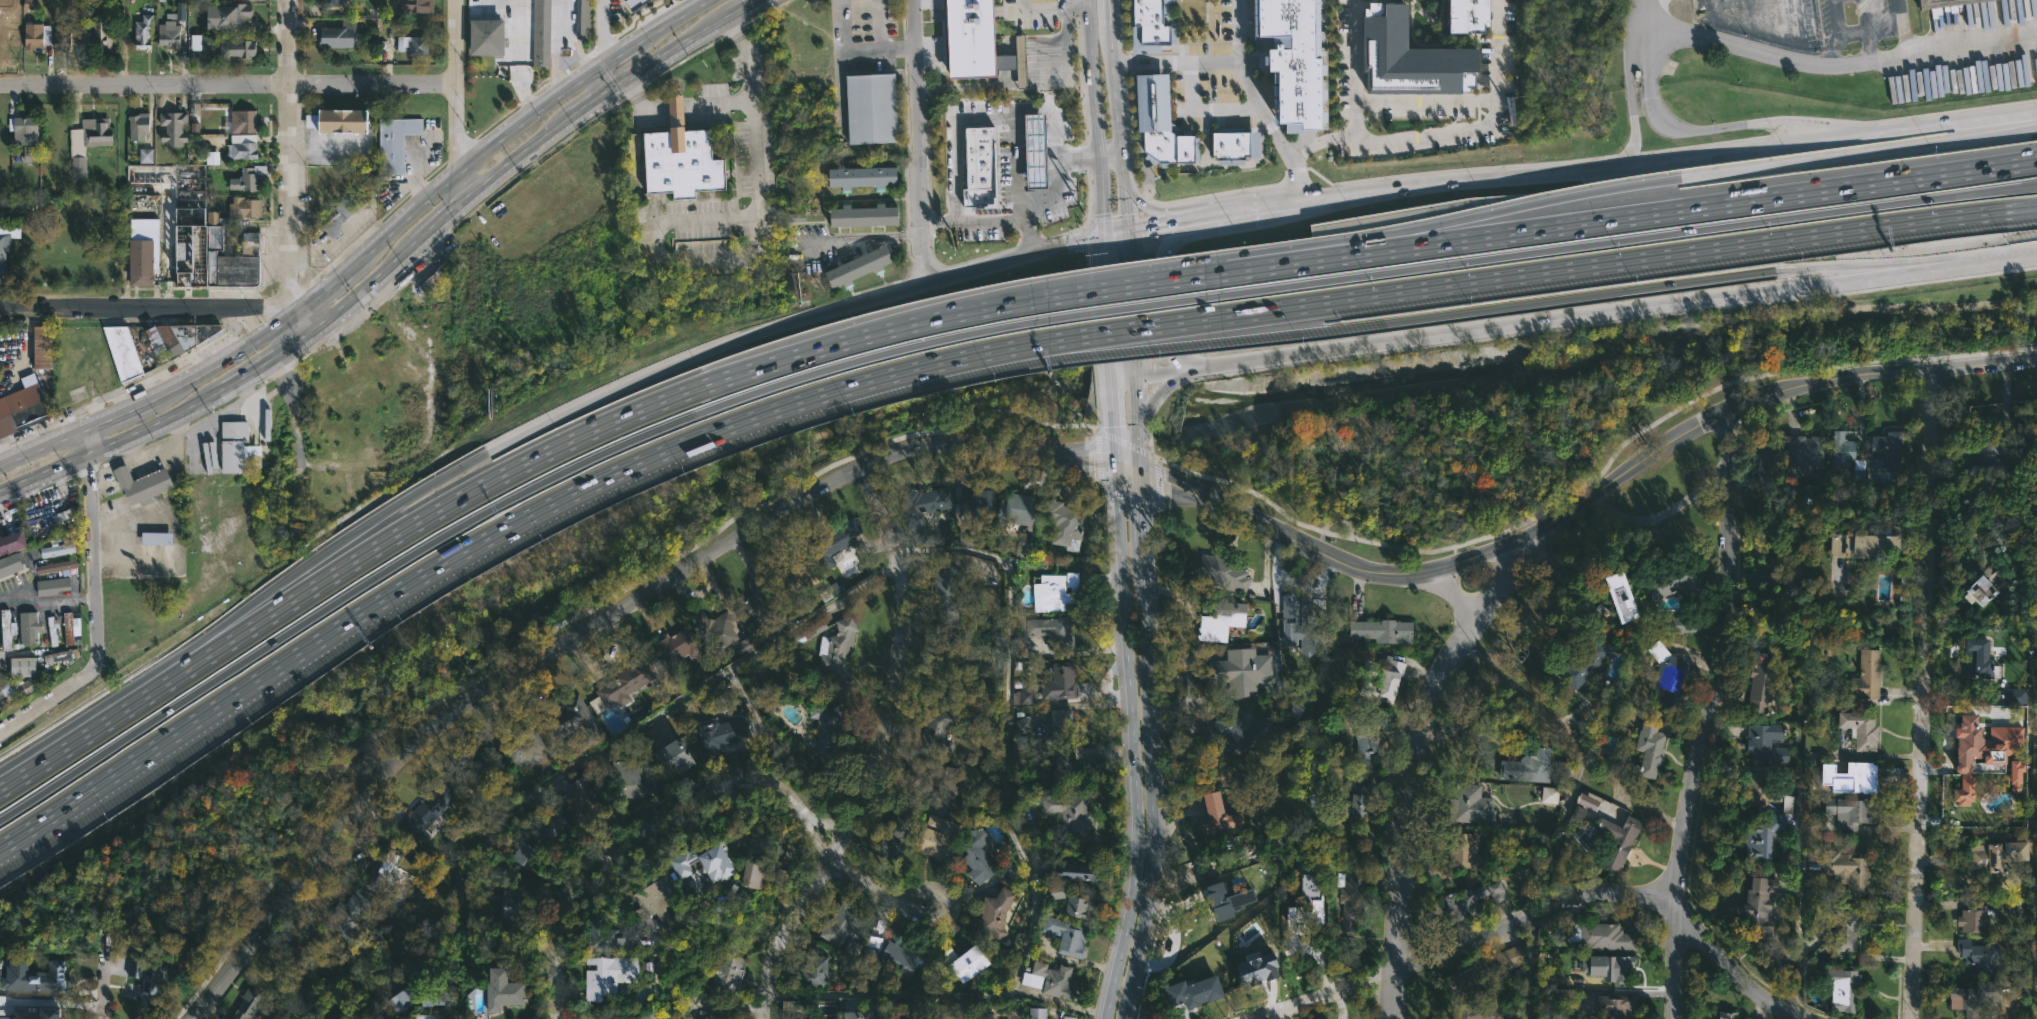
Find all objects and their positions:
building: (329, 2)
building: (1946, 3)
building: (635, 4)
building: (412, 5)
road: (747, 7)
road: (1071, 9)
road: (1646, 11)
road: (1116, 12)
building: (1465, 16)
building: (226, 18)
building: (582, 19)
building: (1149, 26)
road: (1636, 27)
building: (11, 29)
road: (600, 29)
building: (144, 31)
building: (539, 33)
building: (96, 34)
building: (169, 34)
building: (339, 34)
building: (37, 35)
building: (63, 36)
building: (486, 36)
building: (201, 42)
building: (976, 42)
building: (417, 44)
road: (555, 46)
building: (238, 48)
road: (576, 48)
road: (670, 50)
road: (853, 50)
building: (1410, 57)
road: (517, 58)
building: (1296, 59)
road: (1179, 61)
road: (1067, 64)
road: (1834, 64)
road: (1355, 67)
road: (602, 80)
road: (1021, 83)
road: (1249, 84)
road: (227, 85)
road: (963, 85)
road: (748, 91)
road: (640, 101)
road: (1424, 101)
road: (590, 102)
road: (456, 103)
road: (674, 105)
building: (974, 105)
building: (870, 107)
road: (1201, 109)
road: (1016, 113)
road: (1630, 113)
building: (341, 120)
building: (245, 121)
building: (1161, 121)
road: (1750, 123)
building: (139, 126)
road: (914, 126)
building: (174, 127)
road: (1121, 127)
building: (25, 130)
road: (1425, 135)
building: (88, 141)
building: (396, 142)
building: (1235, 147)
building: (244, 149)
building: (1034, 150)
gas station: (1034, 150)
building: (28, 154)
building: (146, 155)
road: (289, 155)
road: (952, 156)
building: (681, 157)
road: (514, 160)
road: (1111, 161)
road: (1787, 161)
building: (979, 167)
road: (1581, 170)
building: (859, 177)
building: (249, 178)
road: (1101, 189)
road: (1055, 196)
road: (1140, 200)
road: (1727, 201)
building: (351, 206)
building: (861, 215)
road: (988, 218)
road: (1477, 222)
road: (435, 225)
building: (205, 228)
traffic signals: (1127, 230)
road: (1116, 232)
traffic signals: (1105, 234)
road: (860, 237)
road: (1619, 237)
building: (4, 250)
road: (363, 252)
road: (716, 254)
road: (1008, 257)
road: (1309, 259)
road: (1619, 259)
road: (2008, 260)
building: (142, 262)
road: (932, 264)
road: (1930, 265)
building: (862, 266)
road: (915, 268)
building: (439, 278)
road: (1123, 284)
road: (352, 299)
road: (1153, 299)
road: (1542, 299)
road: (1131, 304)
road: (1123, 305)
road: (146, 308)
road: (1615, 317)
road: (1127, 327)
road: (290, 331)
building: (180, 337)
road: (1128, 339)
road: (829, 343)
building: (43, 347)
building: (124, 352)
road: (693, 355)
road: (1218, 369)
road: (257, 373)
road: (1160, 375)
traffic signals: (1112, 378)
road: (1123, 378)
traffic signals: (1135, 378)
road: (1160, 392)
park: (1575, 395)
road: (1136, 406)
building: (23, 407)
road: (1113, 422)
road: (1123, 442)
road: (113, 443)
building: (234, 445)
building: (1883, 445)
building: (1985, 445)
road: (158, 446)
road: (993, 447)
building: (1804, 450)
building: (1842, 453)
road: (1138, 454)
road: (366, 460)
traffic signals: (1115, 466)
building: (1762, 467)
road: (1127, 469)
traffic signals: (1139, 473)
road: (1590, 478)
building: (143, 485)
road: (1584, 498)
building: (978, 504)
road: (494, 507)
building: (925, 507)
building: (1019, 508)
road: (376, 515)
building: (1066, 524)
road: (155, 526)
road: (410, 526)
road: (497, 531)
road: (94, 533)
building: (157, 538)
building: (965, 538)
building: (12, 542)
building: (834, 543)
building: (1852, 545)
building: (57, 549)
road: (947, 557)
road: (137, 560)
building: (10, 565)
building: (58, 566)
building: (793, 572)
building: (1223, 576)
building: (1558, 578)
building: (1669, 582)
building: (53, 586)
road: (1445, 590)
building: (1058, 593)
road: (1493, 593)
building: (948, 595)
building: (1981, 595)
building: (761, 599)
building: (1607, 600)
road: (49, 601)
road: (572, 616)
building: (1222, 619)
road: (242, 620)
building: (1668, 625)
building: (1301, 626)
building: (29, 628)
building: (68, 628)
building: (7, 629)
building: (717, 630)
building: (53, 631)
building: (1381, 631)
building: (1049, 635)
building: (744, 645)
building: (678, 646)
building: (840, 651)
building: (58, 656)
building: (1974, 658)
building: (1581, 661)
building: (23, 667)
building: (948, 668)
building: (1239, 671)
building: (1878, 674)
building: (1666, 676)
building: (1866, 676)
building: (1378, 679)
building: (629, 681)
building: (1061, 683)
building: (1758, 685)
building: (15, 687)
road: (488, 688)
road: (1924, 691)
building: (717, 696)
building: (1023, 696)
building: (2012, 696)
road: (64, 699)
road: (1710, 714)
road: (1467, 719)
building: (574, 720)
road: (105, 722)
building: (1052, 726)
building: (828, 728)
building: (1871, 729)
building: (1233, 731)
building: (720, 733)
building: (1367, 734)
building: (937, 735)
road: (1570, 735)
building: (2035, 738)
building: (1647, 742)
building: (1974, 743)
road: (1129, 744)
building: (1764, 744)
building: (528, 746)
road: (1152, 747)
road: (882, 750)
building: (678, 756)
road: (1893, 756)
building: (493, 763)
building: (1525, 767)
building: (1071, 770)
building: (1852, 775)
building: (2015, 776)
building: (937, 777)
building: (632, 780)
building: (1758, 790)
building: (1549, 795)
building: (1356, 796)
building: (589, 799)
building: (1587, 802)
building: (1468, 805)
building: (427, 809)
building: (1848, 812)
building: (1578, 813)
building: (1074, 815)
building: (1212, 816)
road: (1401, 826)
road: (644, 827)
building: (898, 830)
building: (551, 832)
building: (1757, 836)
building: (940, 837)
building: (1614, 842)
building: (1460, 850)
building: (1995, 855)
building: (979, 856)
building: (526, 857)
park: (211, 861)
building: (385, 862)
building: (683, 863)
building: (715, 867)
road: (1796, 869)
building: (1080, 873)
building: (1845, 873)
building: (753, 875)
building: (770, 879)
road: (1544, 882)
building: (1056, 891)
road: (880, 892)
building: (1347, 893)
building: (492, 896)
building: (665, 900)
building: (1227, 900)
building: (1308, 901)
building: (1468, 902)
building: (1756, 908)
building: (513, 910)
building: (1084, 911)
building: (996, 915)
building: (1971, 916)
road: (1544, 917)
building: (351, 920)
building: (841, 925)
building: (1839, 928)
building: (1068, 934)
building: (1601, 935)
building: (613, 938)
building: (1293, 938)
building: (1223, 941)
building: (1977, 955)
building: (850, 956)
building: (903, 959)
building: (968, 961)
road: (104, 964)
building: (1612, 967)
building: (1488, 968)
building: (816, 970)
building: (1256, 970)
building: (1558, 972)
building: (729, 974)
building: (869, 975)
building: (33, 976)
building: (146, 979)
building: (1056, 979)
building: (615, 981)
building: (510, 988)
building: (1841, 988)
building: (1194, 992)
building: (422, 995)
building: (1972, 997)
building: (248, 1004)
building: (1611, 1006)
building: (1476, 1011)
building: (53, 1013)
road: (304, 1013)
building: (652, 1013)
building: (1037, 1013)
building: (855, 1015)
building: (1724, 1015)
building: (678, 1016)
building: (1072, 1017)
building: (903, 1018)

